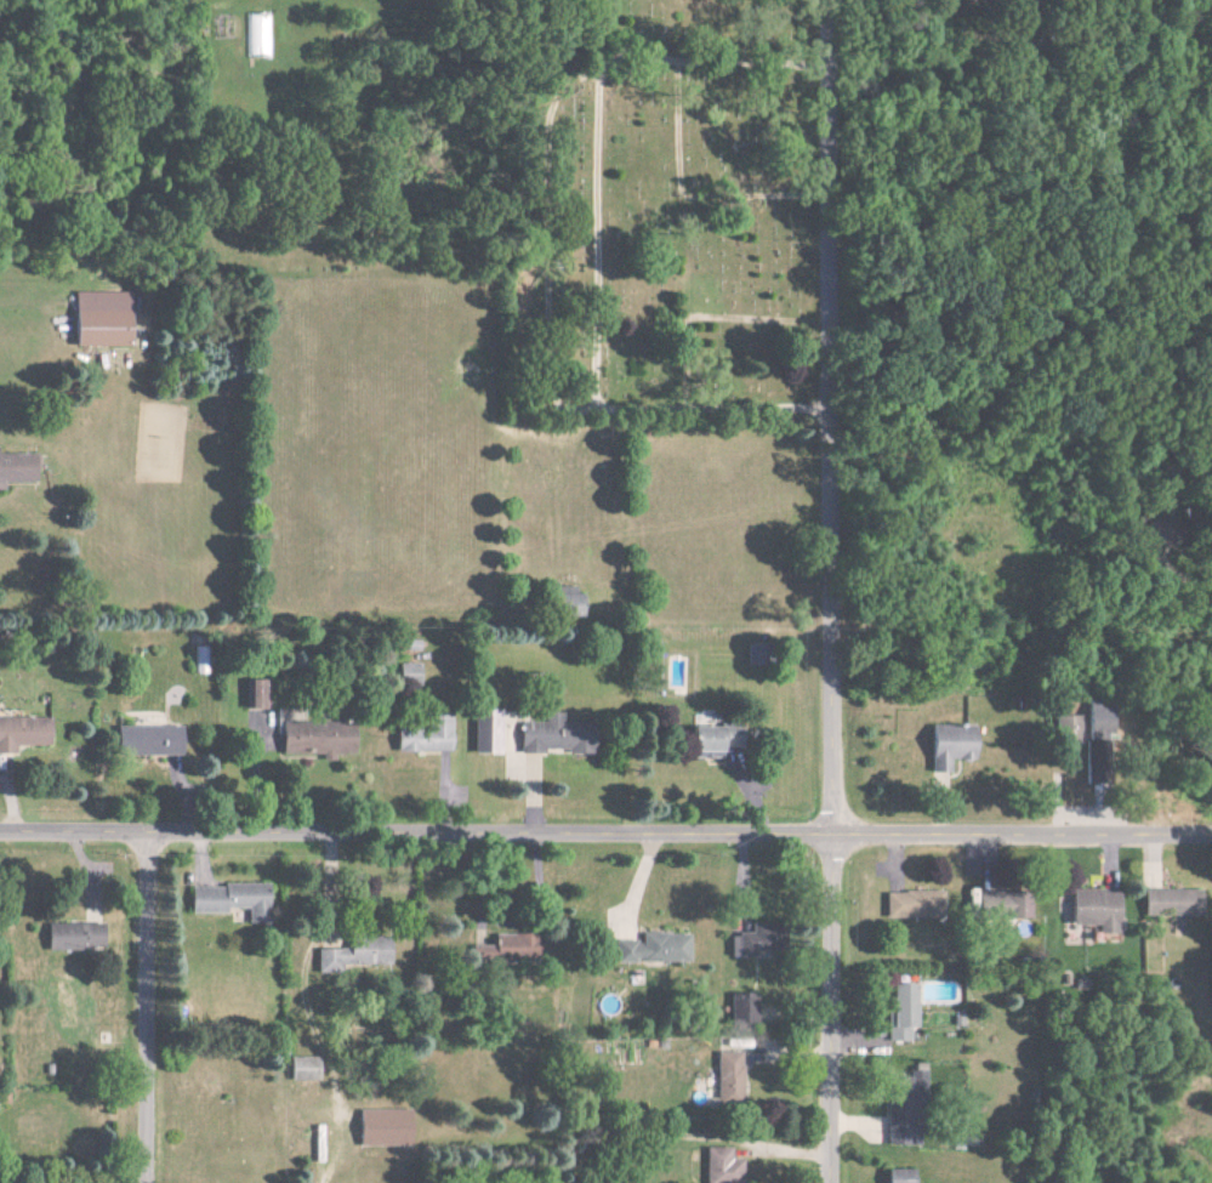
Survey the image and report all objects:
building: (980, 0)
building: (260, 35)
park: (679, 207)
building: (98, 319)
building: (15, 468)
road: (832, 591)
building: (561, 602)
building: (403, 675)
building: (254, 695)
building: (1102, 722)
building: (1071, 730)
building: (482, 732)
building: (21, 733)
building: (550, 736)
building: (421, 738)
building: (143, 740)
building: (313, 740)
building: (699, 741)
building: (946, 746)
road: (605, 836)
building: (227, 900)
building: (1170, 903)
building: (911, 905)
building: (1000, 906)
building: (1093, 910)
building: (69, 937)
building: (502, 949)
building: (651, 949)
building: (352, 954)
road: (148, 1008)
building: (739, 1009)
building: (900, 1012)
building: (298, 1069)
building: (726, 1077)
building: (906, 1085)
building: (380, 1128)
building: (719, 1166)
building: (894, 1176)

